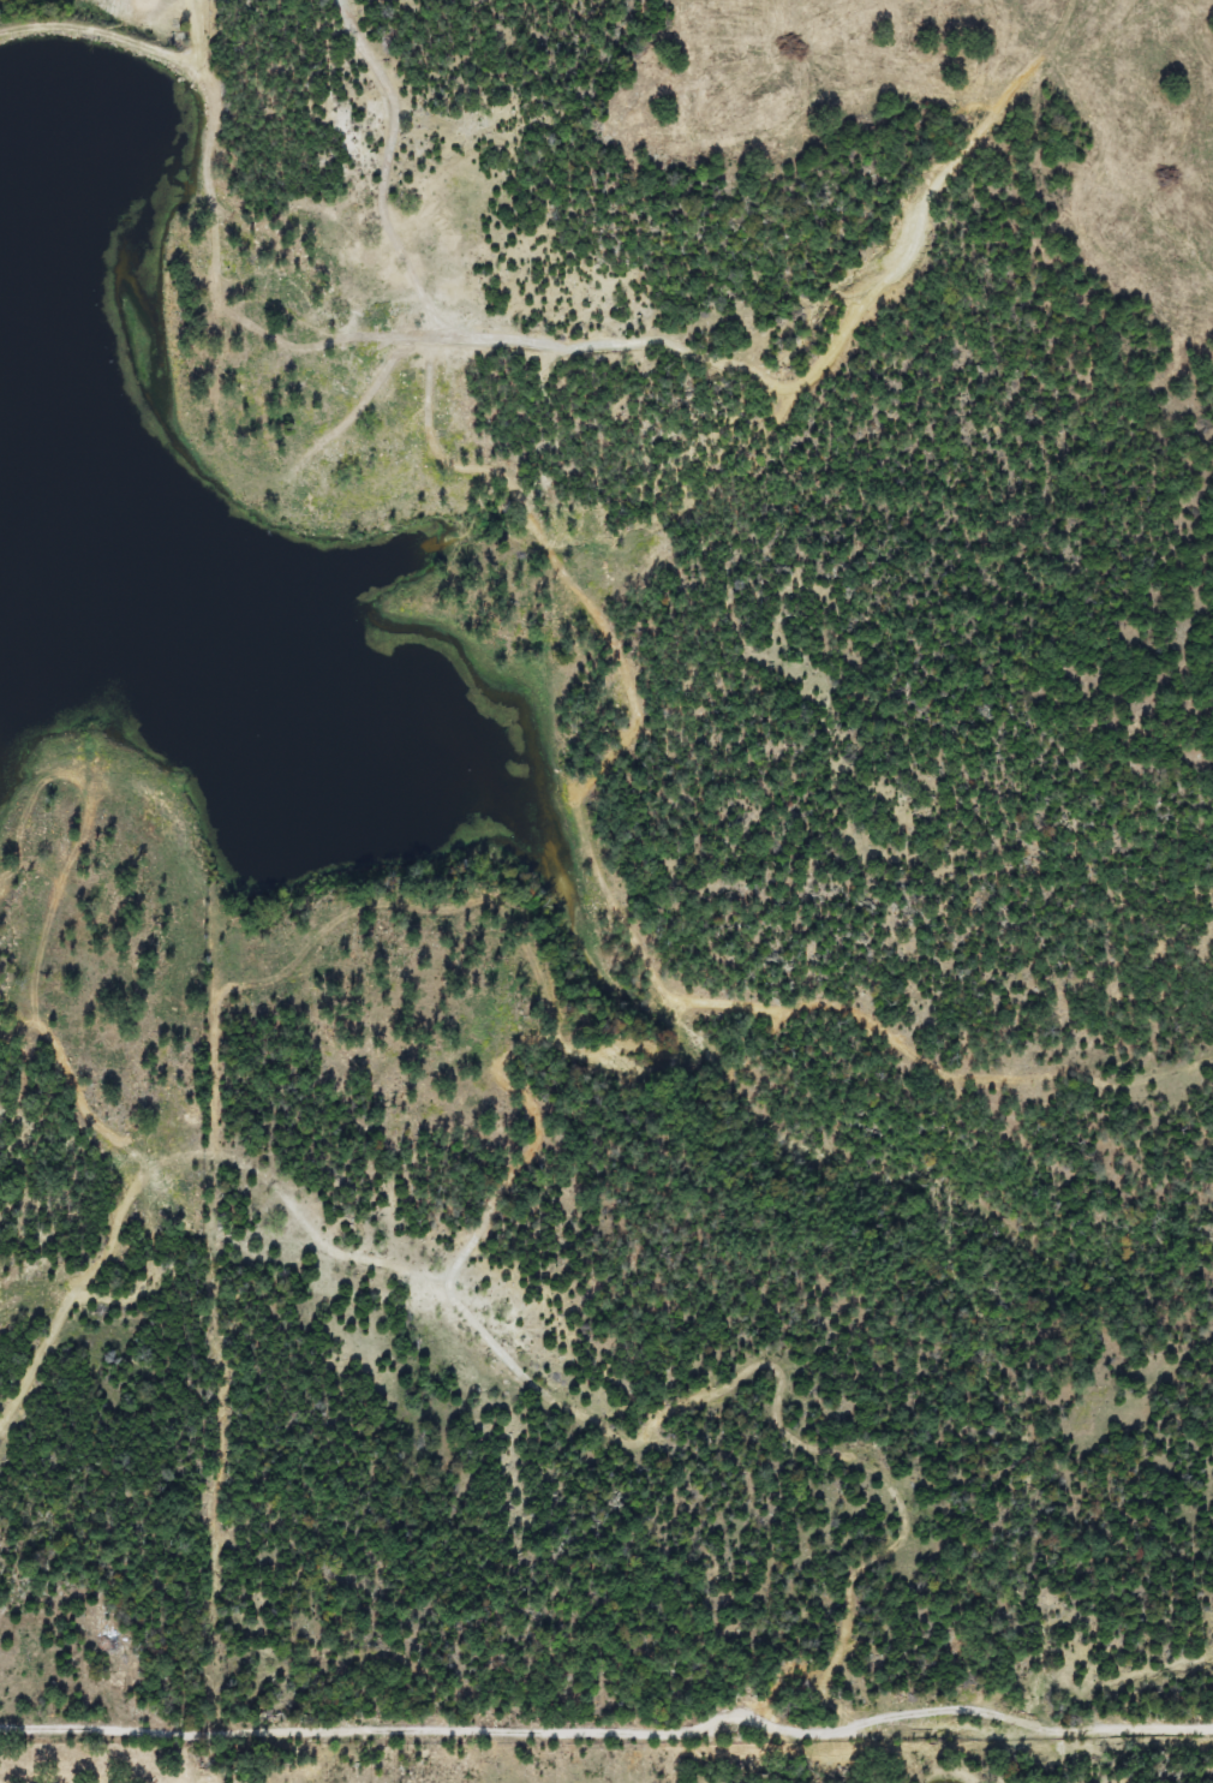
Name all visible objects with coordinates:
dam: (103, 31)

